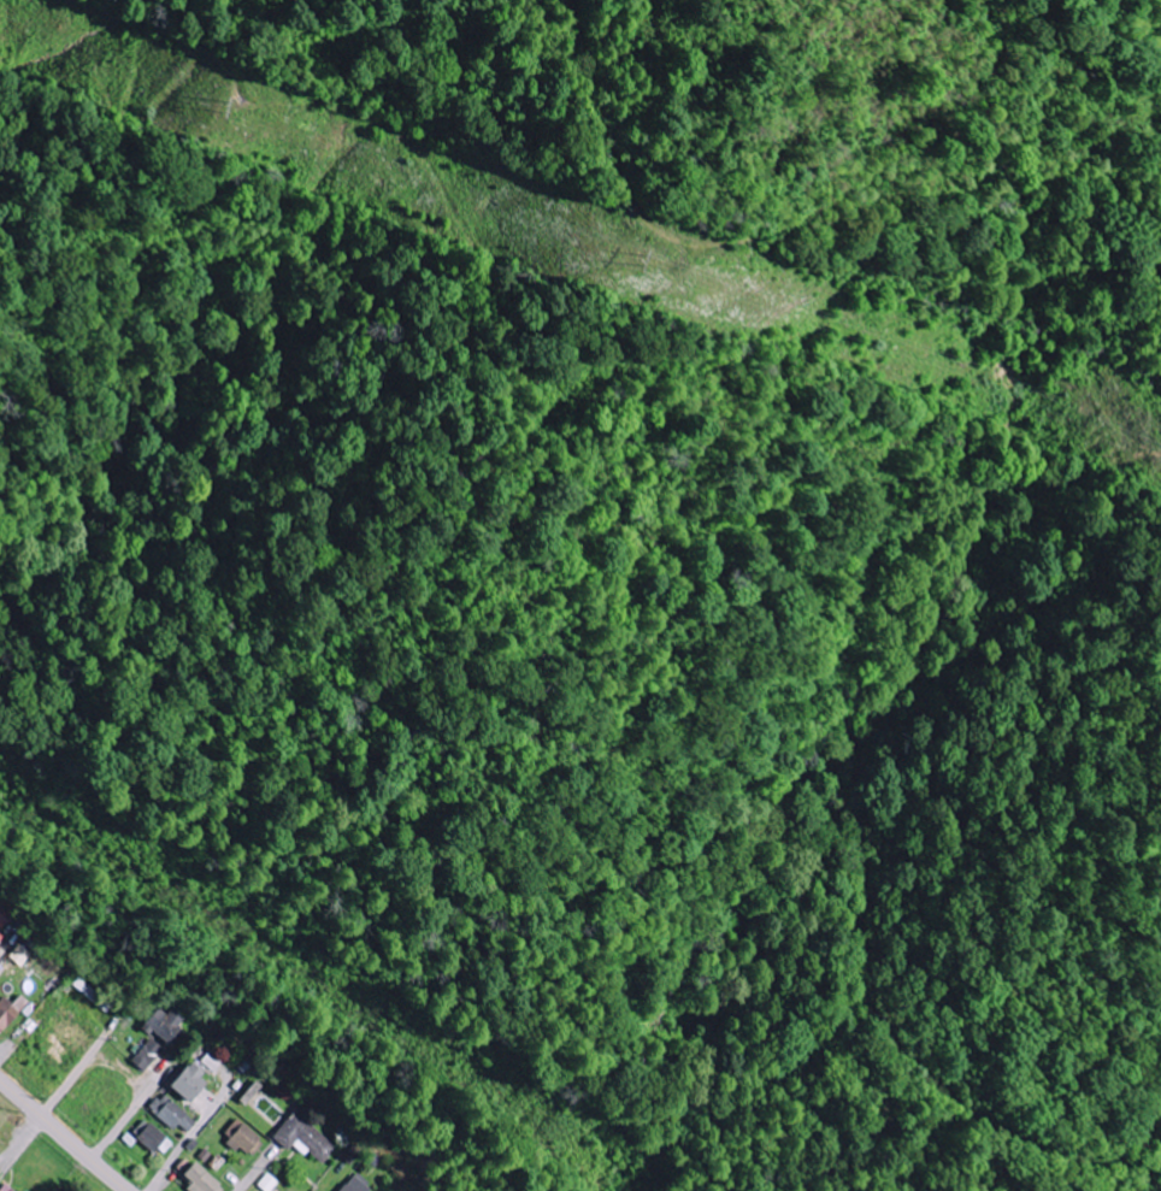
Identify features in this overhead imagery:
building: (4, 916)
building: (0, 934)
building: (0, 957)
building: (10, 1009)
building: (164, 1024)
road: (4, 1053)
building: (146, 1054)
building: (211, 1062)
road: (71, 1080)
building: (187, 1081)
building: (172, 1116)
road: (120, 1125)
road: (64, 1134)
building: (240, 1136)
building: (303, 1137)
building: (152, 1138)
road: (24, 1139)
road: (163, 1173)
road: (255, 1174)
building: (198, 1179)
building: (267, 1183)
building: (356, 1184)
building: (5, 1187)

